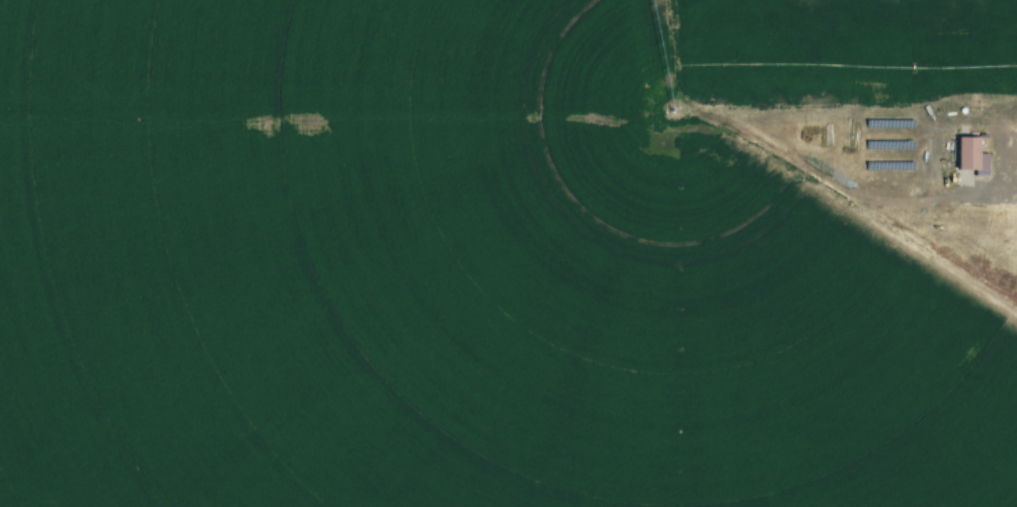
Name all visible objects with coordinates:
building: (974, 156)

